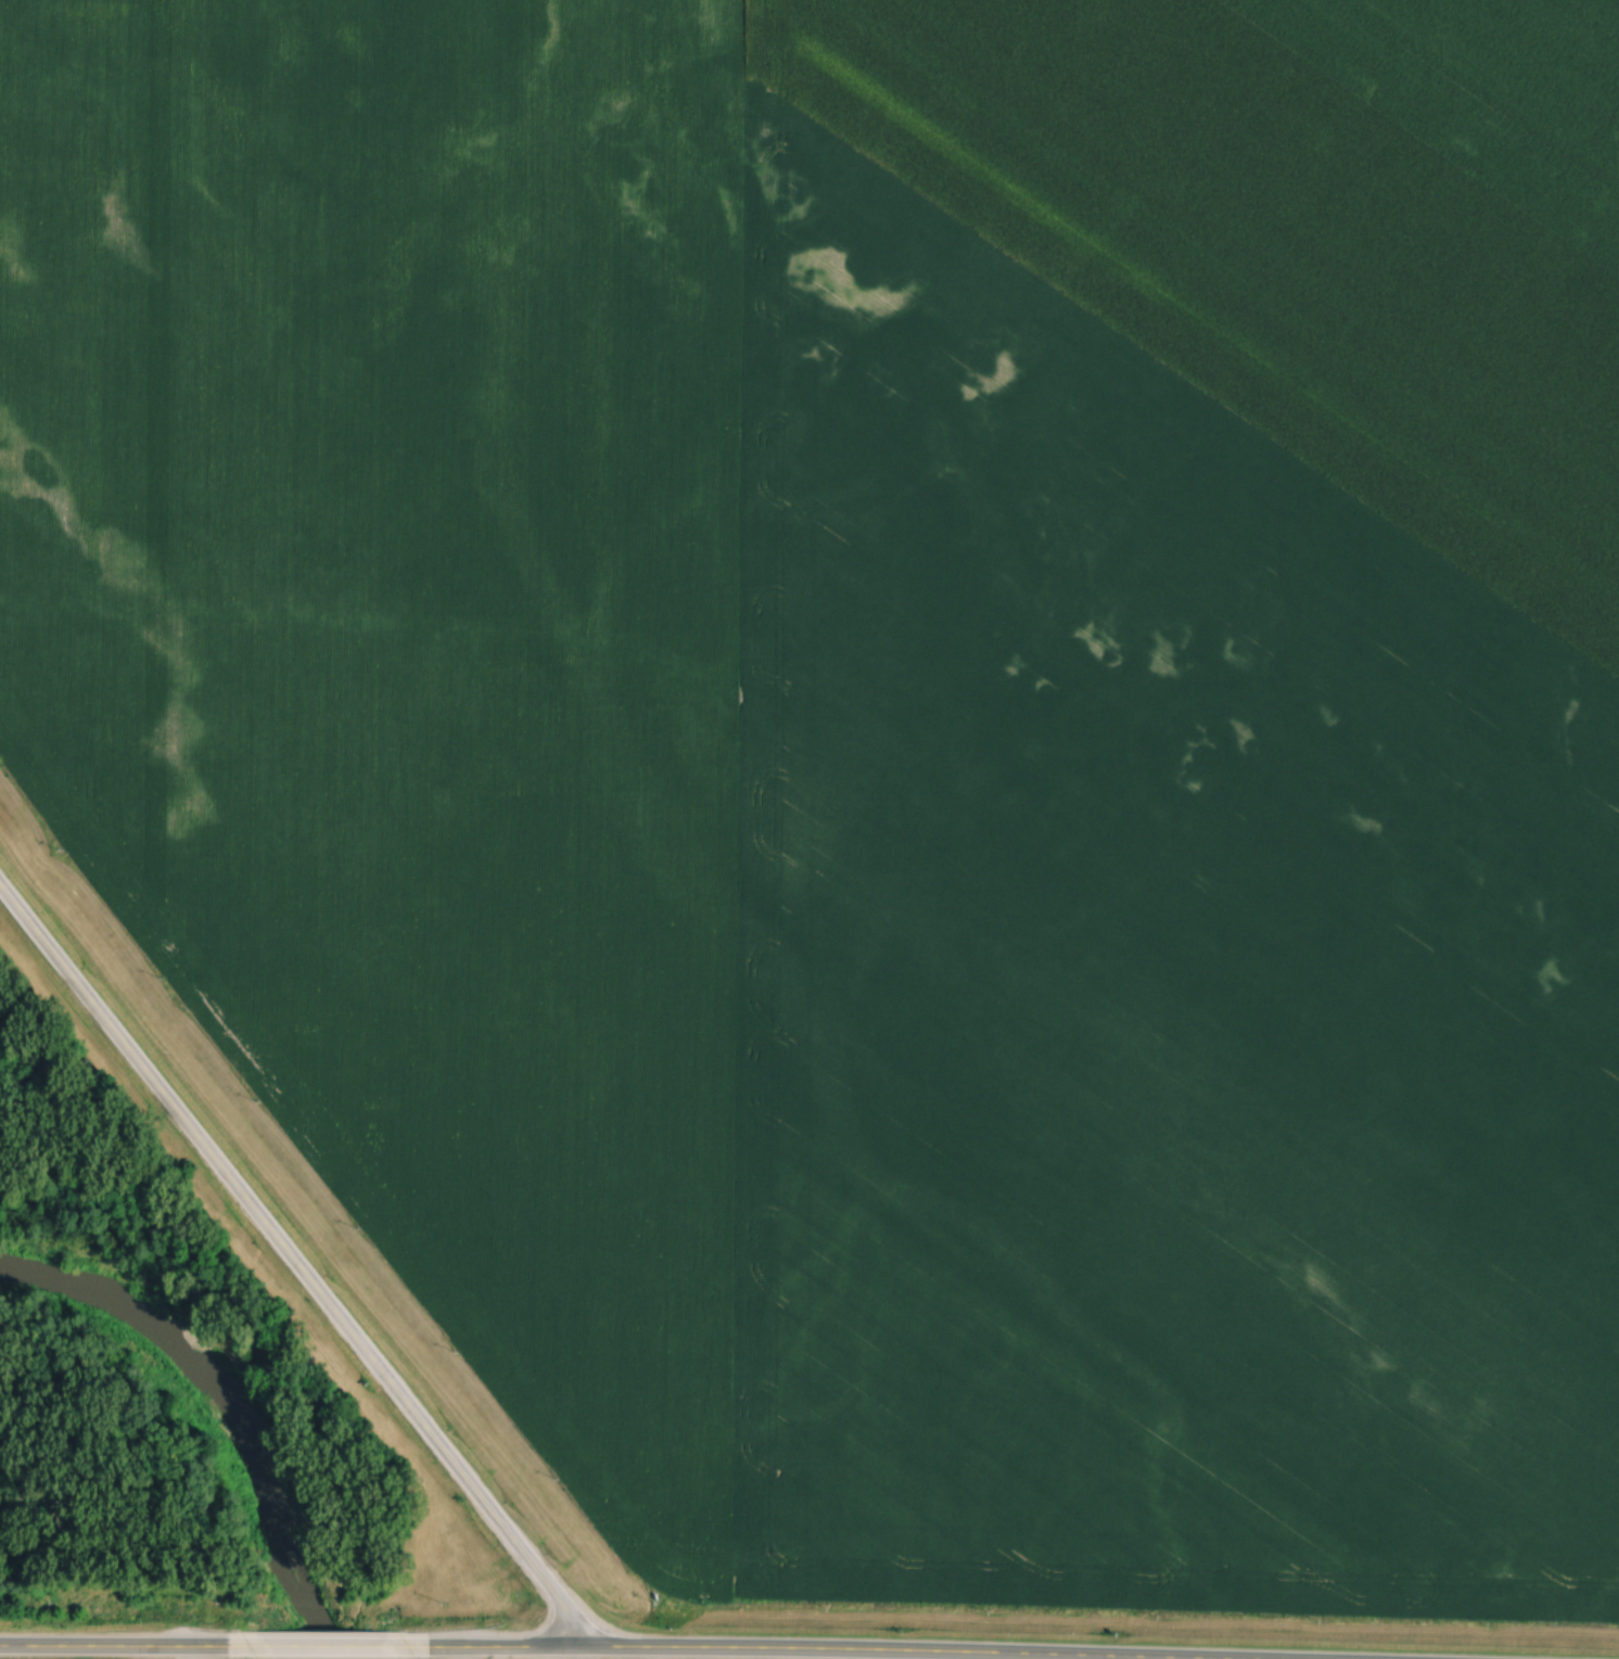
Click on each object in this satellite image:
road: (297, 1267)
river: (216, 1412)
road: (323, 1646)
road: (128, 1647)
road: (769, 1651)

